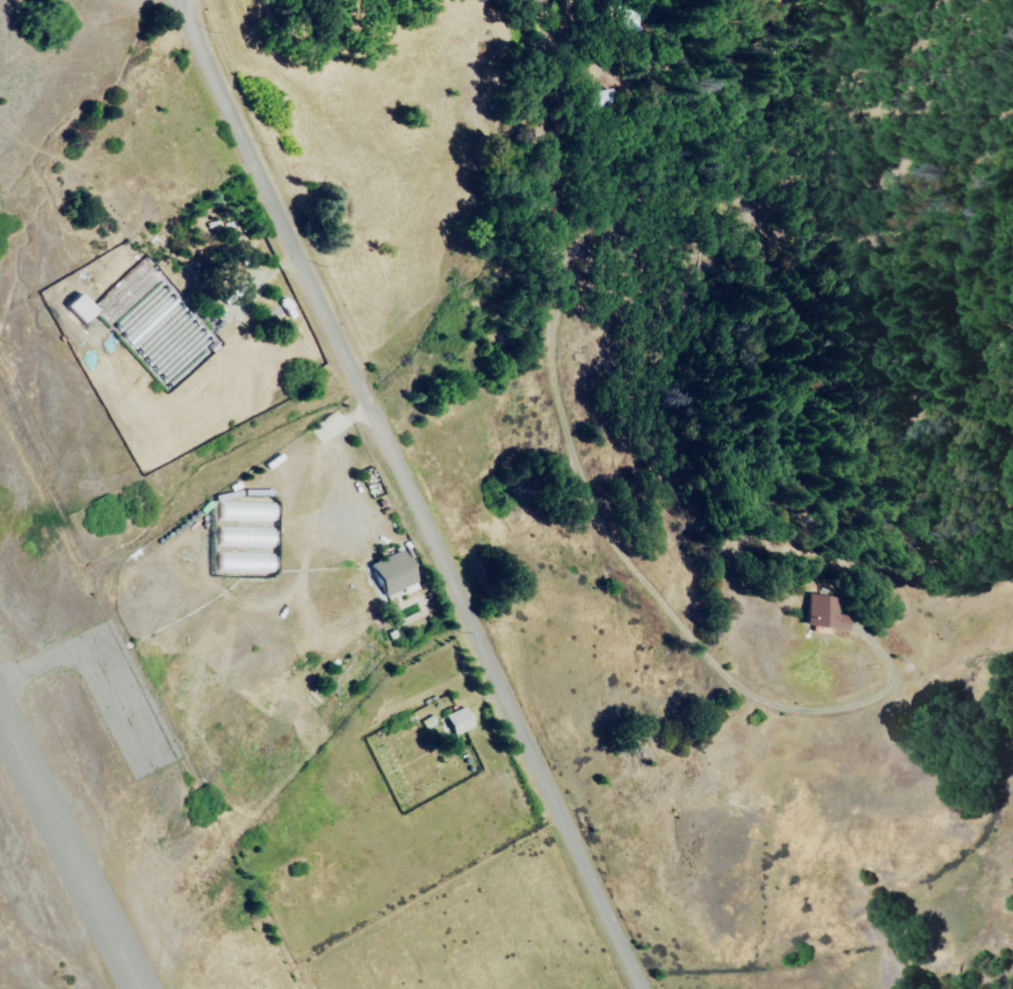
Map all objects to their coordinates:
road: (172, 22)
building: (602, 97)
building: (77, 307)
road: (582, 468)
road: (409, 495)
building: (389, 574)
building: (823, 613)
building: (457, 721)
building: (426, 722)
airport runway: (71, 848)

